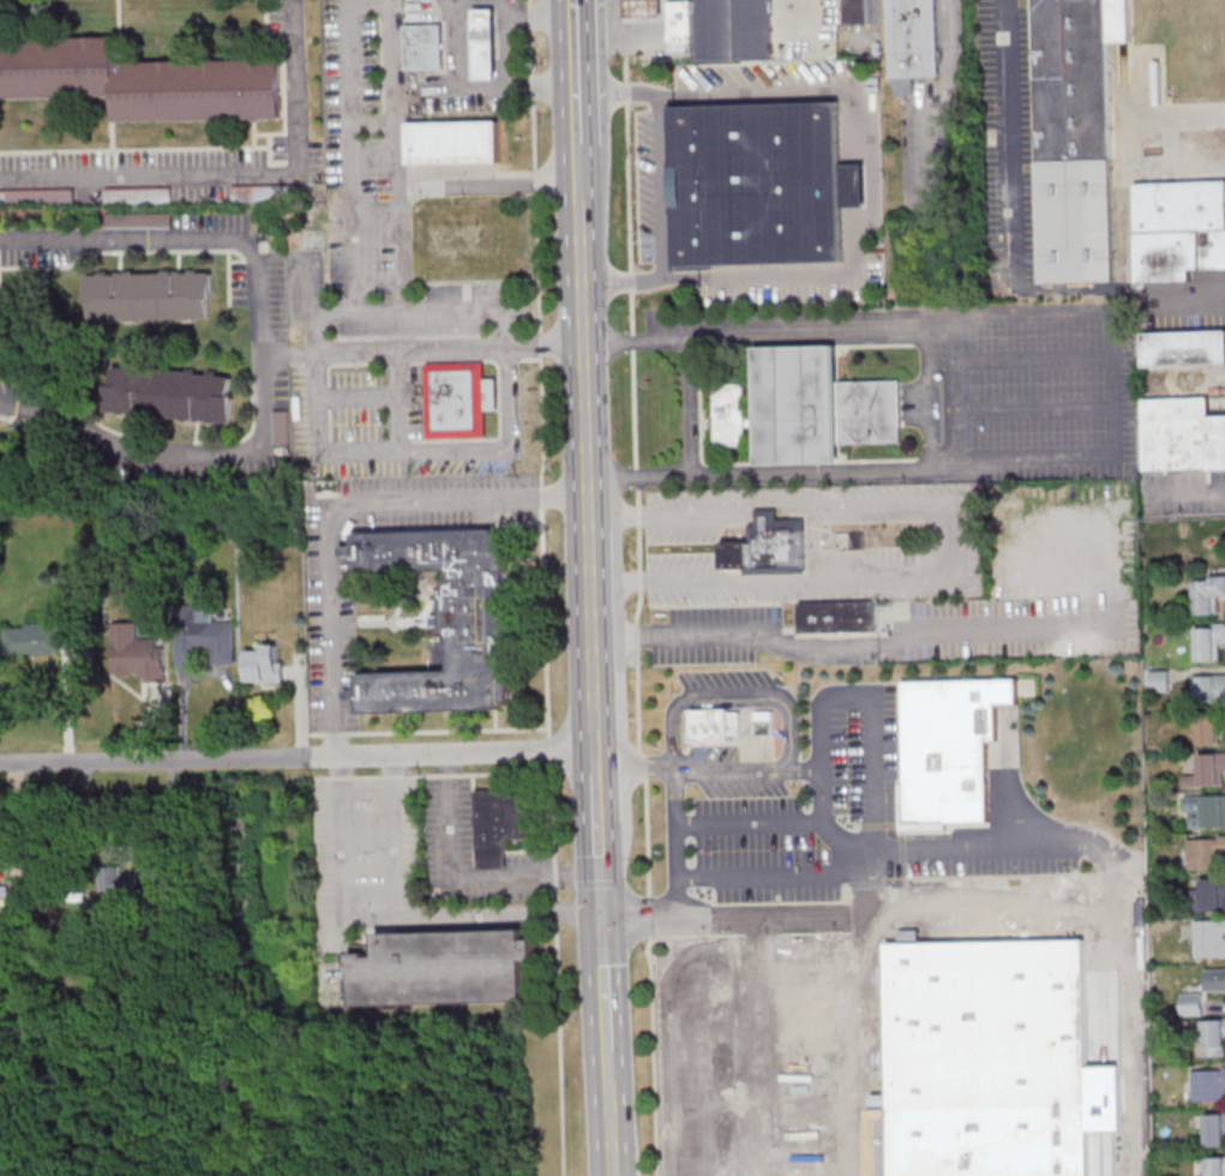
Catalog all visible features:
building: (643, 8)
building: (857, 12)
road: (530, 17)
building: (680, 19)
building: (734, 31)
building: (913, 43)
building: (486, 44)
building: (425, 48)
road: (512, 52)
road: (576, 71)
building: (139, 82)
road: (470, 86)
road: (941, 98)
road: (374, 122)
road: (349, 134)
building: (1076, 136)
road: (1129, 136)
building: (452, 142)
road: (1010, 144)
road: (578, 173)
road: (875, 173)
road: (234, 174)
road: (491, 184)
building: (759, 185)
road: (659, 190)
building: (265, 193)
building: (138, 196)
building: (36, 197)
road: (402, 217)
building: (138, 221)
building: (1178, 230)
building: (149, 296)
road: (1201, 307)
road: (630, 310)
road: (473, 311)
building: (1183, 349)
road: (450, 352)
road: (288, 354)
road: (263, 355)
road: (584, 366)
road: (1115, 382)
building: (170, 395)
road: (955, 398)
building: (457, 400)
road: (509, 401)
road: (398, 402)
building: (806, 409)
road: (687, 410)
building: (281, 428)
building: (1181, 436)
road: (317, 442)
road: (452, 451)
road: (1191, 490)
road: (882, 503)
road: (340, 509)
park: (1182, 538)
building: (768, 547)
road: (689, 584)
road: (544, 587)
building: (1207, 594)
building: (839, 618)
building: (445, 619)
road: (592, 630)
road: (635, 635)
building: (32, 638)
building: (205, 642)
building: (1208, 643)
road: (847, 649)
building: (137, 653)
building: (264, 662)
building: (1158, 680)
building: (1209, 688)
road: (865, 694)
road: (637, 698)
road: (789, 701)
building: (713, 724)
building: (1208, 728)
road: (422, 730)
road: (596, 739)
building: (948, 743)
road: (298, 756)
road: (596, 760)
road: (643, 764)
road: (635, 768)
building: (1208, 770)
road: (430, 774)
road: (1002, 779)
road: (598, 793)
building: (1205, 811)
building: (499, 823)
road: (750, 823)
road: (394, 836)
road: (647, 836)
road: (677, 841)
road: (972, 844)
building: (1206, 853)
road: (600, 866)
road: (770, 875)
road: (464, 877)
road: (864, 880)
building: (130, 881)
road: (991, 887)
building: (1209, 894)
building: (11, 895)
road: (732, 914)
road: (649, 916)
traffic signals: (602, 918)
road: (386, 920)
road: (764, 937)
building: (1209, 937)
building: (443, 967)
road: (684, 978)
building: (1215, 979)
road: (605, 983)
building: (1191, 1004)
road: (774, 1010)
road: (1127, 1021)
building: (1213, 1038)
road: (864, 1043)
building: (990, 1055)
road: (653, 1056)
road: (607, 1062)
road: (775, 1067)
building: (1208, 1084)
road: (776, 1117)
road: (610, 1126)
building: (1215, 1129)
building: (1215, 1165)
road: (777, 1170)

